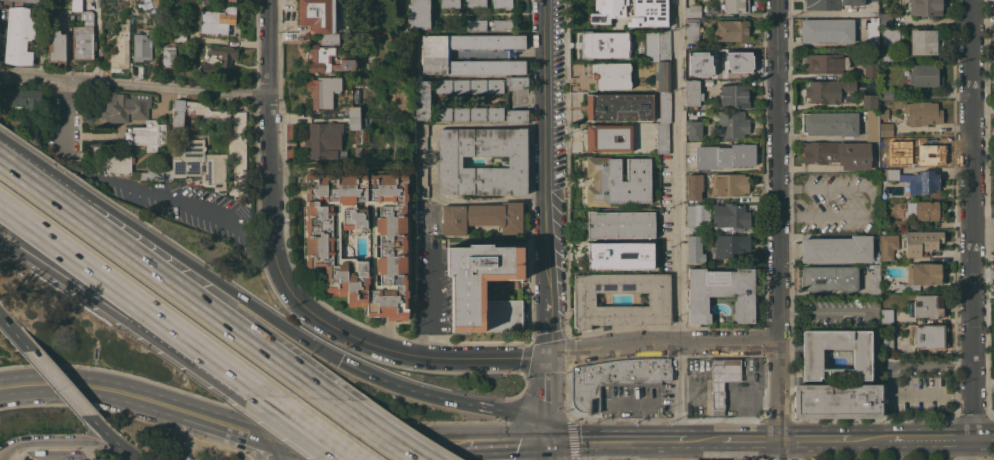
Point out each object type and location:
building: (231, 0)
building: (30, 1)
building: (450, 4)
building: (476, 4)
building: (502, 4)
building: (830, 4)
building: (68, 5)
building: (733, 6)
building: (925, 7)
building: (607, 10)
building: (693, 11)
building: (649, 13)
building: (318, 14)
building: (419, 14)
building: (902, 14)
building: (885, 19)
building: (217, 21)
building: (476, 24)
building: (502, 24)
building: (731, 30)
building: (826, 31)
building: (82, 33)
building: (691, 33)
building: (872, 33)
building: (18, 36)
building: (178, 36)
building: (889, 36)
building: (328, 39)
building: (923, 42)
building: (141, 45)
building: (605, 45)
building: (55, 46)
building: (663, 46)
building: (120, 47)
building: (487, 53)
building: (695, 53)
building: (457, 54)
building: (168, 55)
building: (435, 55)
building: (886, 55)
building: (224, 58)
building: (326, 60)
building: (730, 61)
building: (824, 63)
building: (869, 70)
building: (609, 75)
building: (925, 75)
building: (662, 76)
building: (516, 83)
road: (134, 86)
building: (468, 86)
building: (322, 91)
building: (826, 91)
building: (693, 93)
building: (885, 94)
building: (734, 96)
building: (23, 99)
building: (421, 100)
building: (868, 102)
building: (124, 107)
building: (618, 107)
building: (664, 107)
building: (353, 112)
building: (921, 113)
road: (65, 114)
building: (468, 114)
building: (883, 114)
building: (516, 116)
building: (830, 123)
building: (353, 124)
building: (732, 124)
building: (872, 125)
building: (694, 129)
building: (885, 130)
building: (147, 135)
building: (606, 138)
building: (662, 138)
building: (324, 140)
building: (188, 148)
building: (922, 150)
building: (837, 154)
building: (724, 156)
road: (72, 159)
road: (432, 160)
building: (448, 160)
building: (886, 160)
building: (116, 164)
road: (806, 167)
building: (888, 174)
road: (549, 178)
building: (617, 181)
road: (974, 181)
building: (420, 183)
building: (729, 184)
building: (925, 184)
building: (693, 187)
road: (165, 195)
road: (870, 200)
building: (755, 209)
building: (924, 210)
road: (993, 211)
building: (697, 215)
building: (730, 216)
building: (481, 217)
road: (679, 219)
building: (620, 224)
road: (260, 227)
building: (693, 230)
road: (776, 230)
building: (920, 243)
building: (394, 245)
building: (730, 246)
building: (887, 246)
building: (694, 249)
building: (838, 250)
road: (171, 253)
building: (619, 255)
building: (993, 271)
building: (920, 276)
building: (829, 278)
road: (164, 279)
building: (874, 280)
road: (284, 283)
building: (483, 288)
road: (430, 292)
building: (720, 293)
building: (584, 299)
road: (130, 301)
building: (925, 306)
building: (886, 315)
road: (126, 324)
road: (14, 334)
building: (928, 336)
road: (661, 344)
building: (886, 344)
road: (431, 347)
traffic signals: (547, 357)
building: (811, 358)
traffic signals: (340, 362)
building: (926, 366)
road: (889, 377)
road: (976, 377)
building: (613, 378)
building: (722, 381)
road: (56, 382)
road: (92, 387)
road: (546, 397)
road: (444, 400)
road: (628, 400)
building: (836, 401)
road: (976, 414)
road: (129, 415)
road: (227, 425)
road: (305, 427)
road: (374, 430)
road: (369, 432)
road: (105, 435)
road: (985, 436)
traffic signals: (273, 437)
road: (932, 437)
traffic signals: (545, 438)
road: (867, 438)
road: (505, 439)
road: (612, 439)
road: (700, 439)
road: (749, 439)
road: (812, 439)
road: (62, 440)
road: (439, 445)
road: (342, 447)
road: (273, 448)
road: (967, 448)
road: (545, 449)
road: (597, 449)
road: (641, 449)
road: (398, 455)
road: (132, 457)

